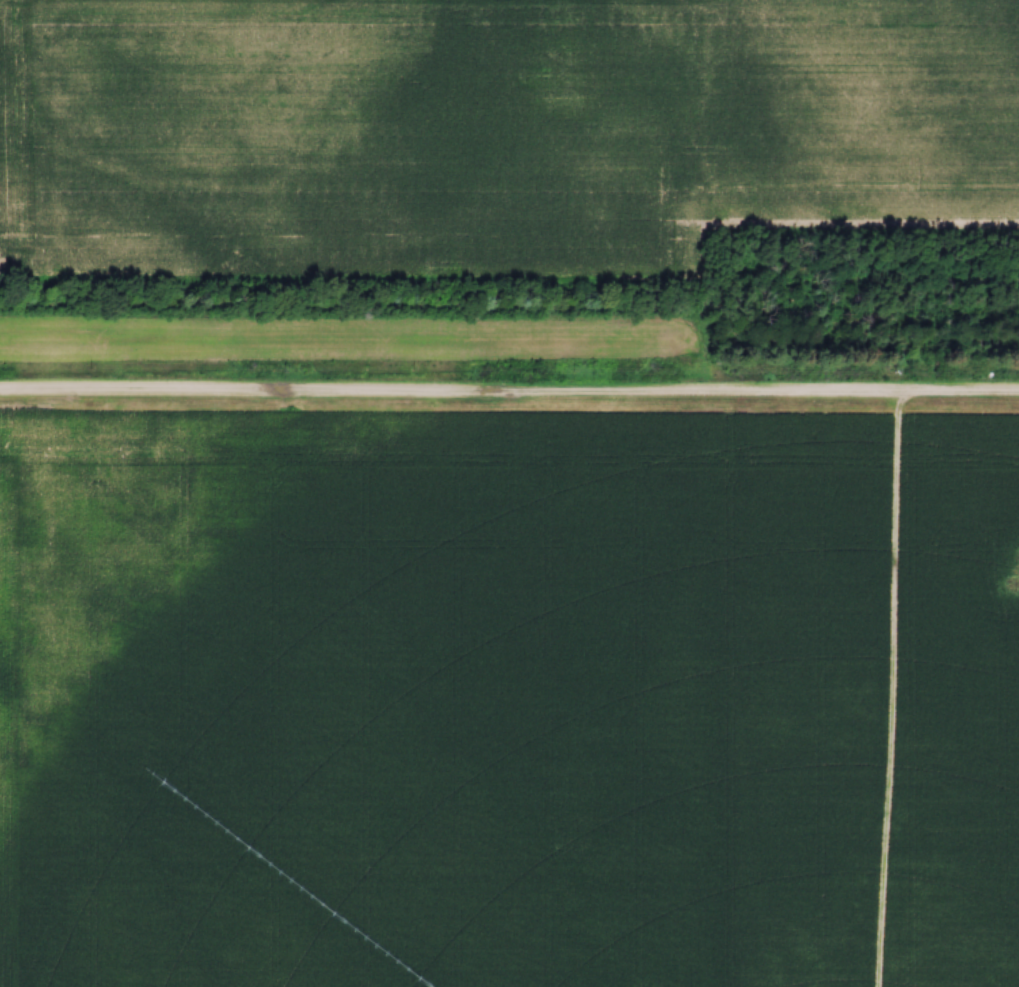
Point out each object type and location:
road: (509, 395)

